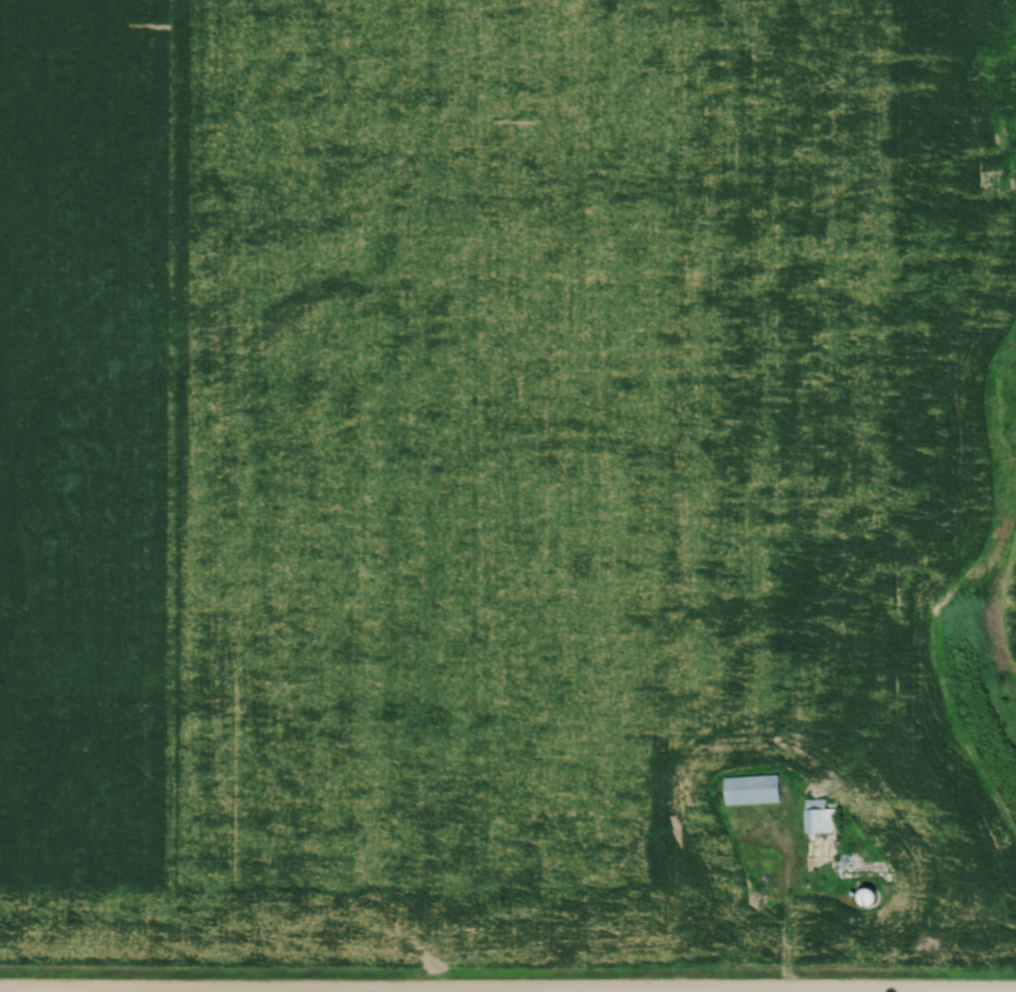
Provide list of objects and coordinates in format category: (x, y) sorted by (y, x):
building: (754, 789)
building: (821, 817)
building: (867, 868)
building: (872, 896)
building: (763, 897)
road: (787, 904)
road: (508, 987)

